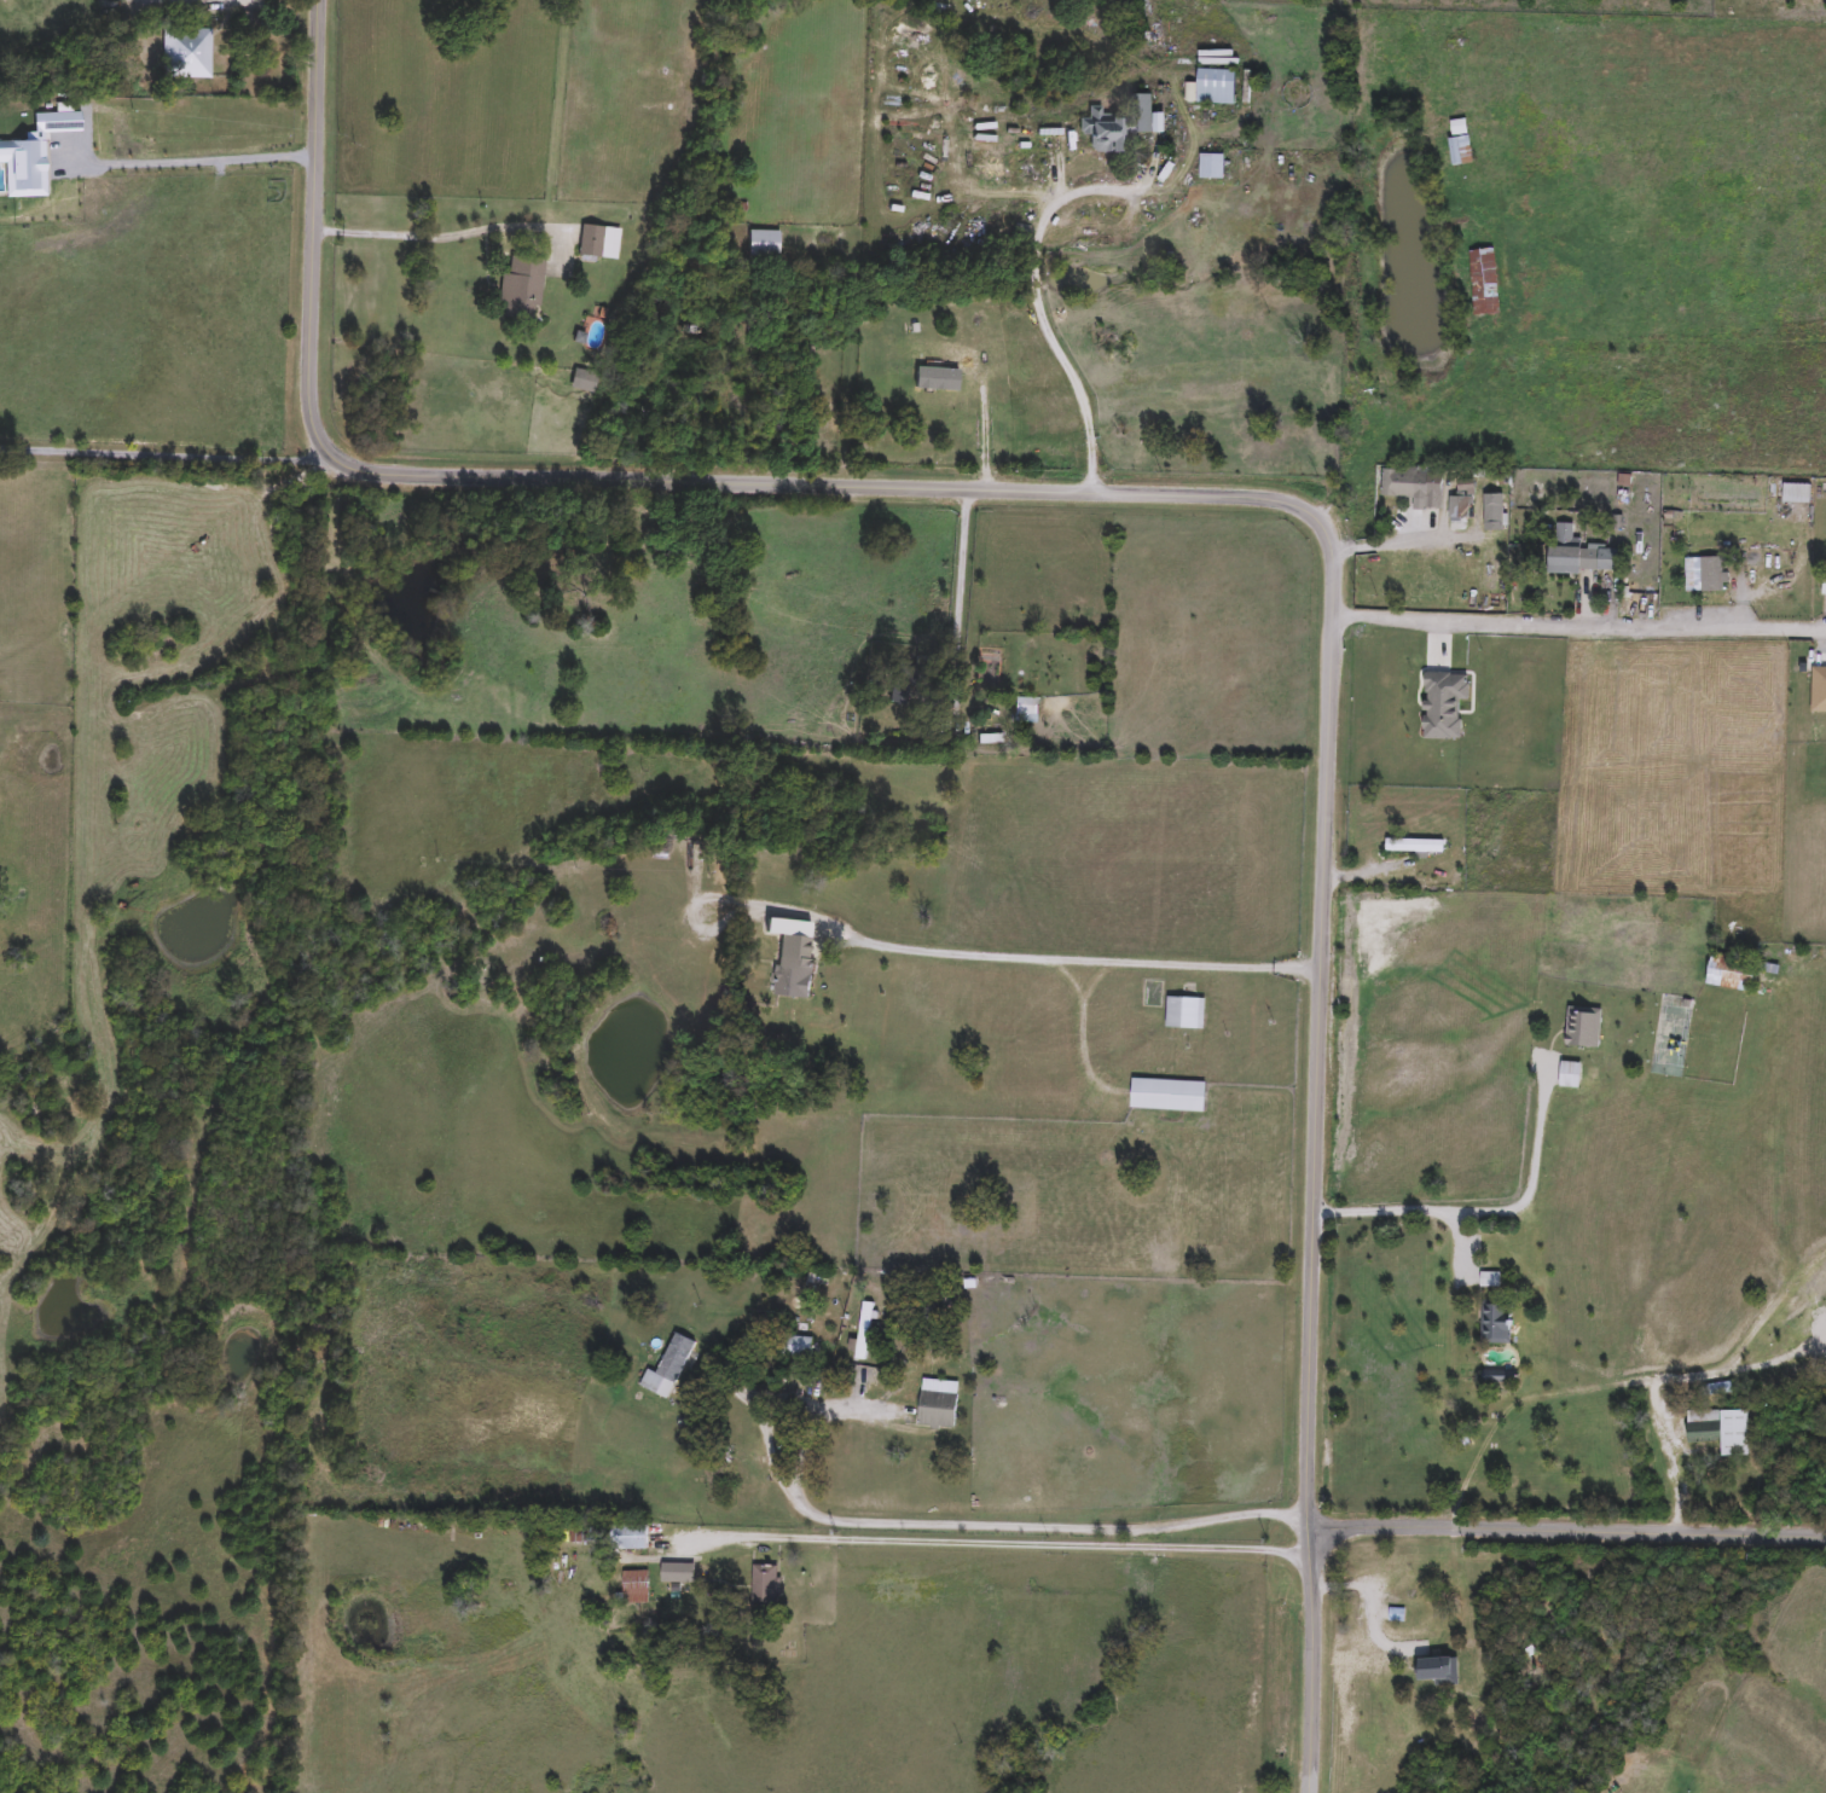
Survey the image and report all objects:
building: (186, 53)
building: (1221, 86)
building: (1115, 127)
building: (1461, 144)
road: (186, 159)
road: (451, 237)
building: (601, 243)
building: (765, 244)
building: (1485, 283)
building: (523, 288)
road: (1038, 313)
building: (585, 379)
road: (167, 458)
building: (1416, 486)
building: (1799, 494)
road: (1234, 499)
building: (1462, 504)
road: (1402, 538)
building: (1582, 555)
building: (1716, 575)
road: (952, 580)
road: (1583, 625)
road: (802, 660)
building: (1447, 707)
building: (1028, 708)
building: (1418, 846)
road: (1581, 881)
road: (1089, 959)
building: (1734, 974)
building: (794, 977)
building: (1176, 1006)
building: (1171, 1096)
road: (1535, 1138)
road: (1426, 1220)
building: (1502, 1324)
road: (1825, 1335)
building: (800, 1347)
building: (669, 1368)
building: (940, 1404)
building: (1722, 1431)
building: (730, 1480)
road: (1011, 1527)
road: (1567, 1538)
road: (995, 1547)
building: (679, 1573)
building: (766, 1585)
building: (637, 1588)
road: (1373, 1601)
building: (1405, 1606)

